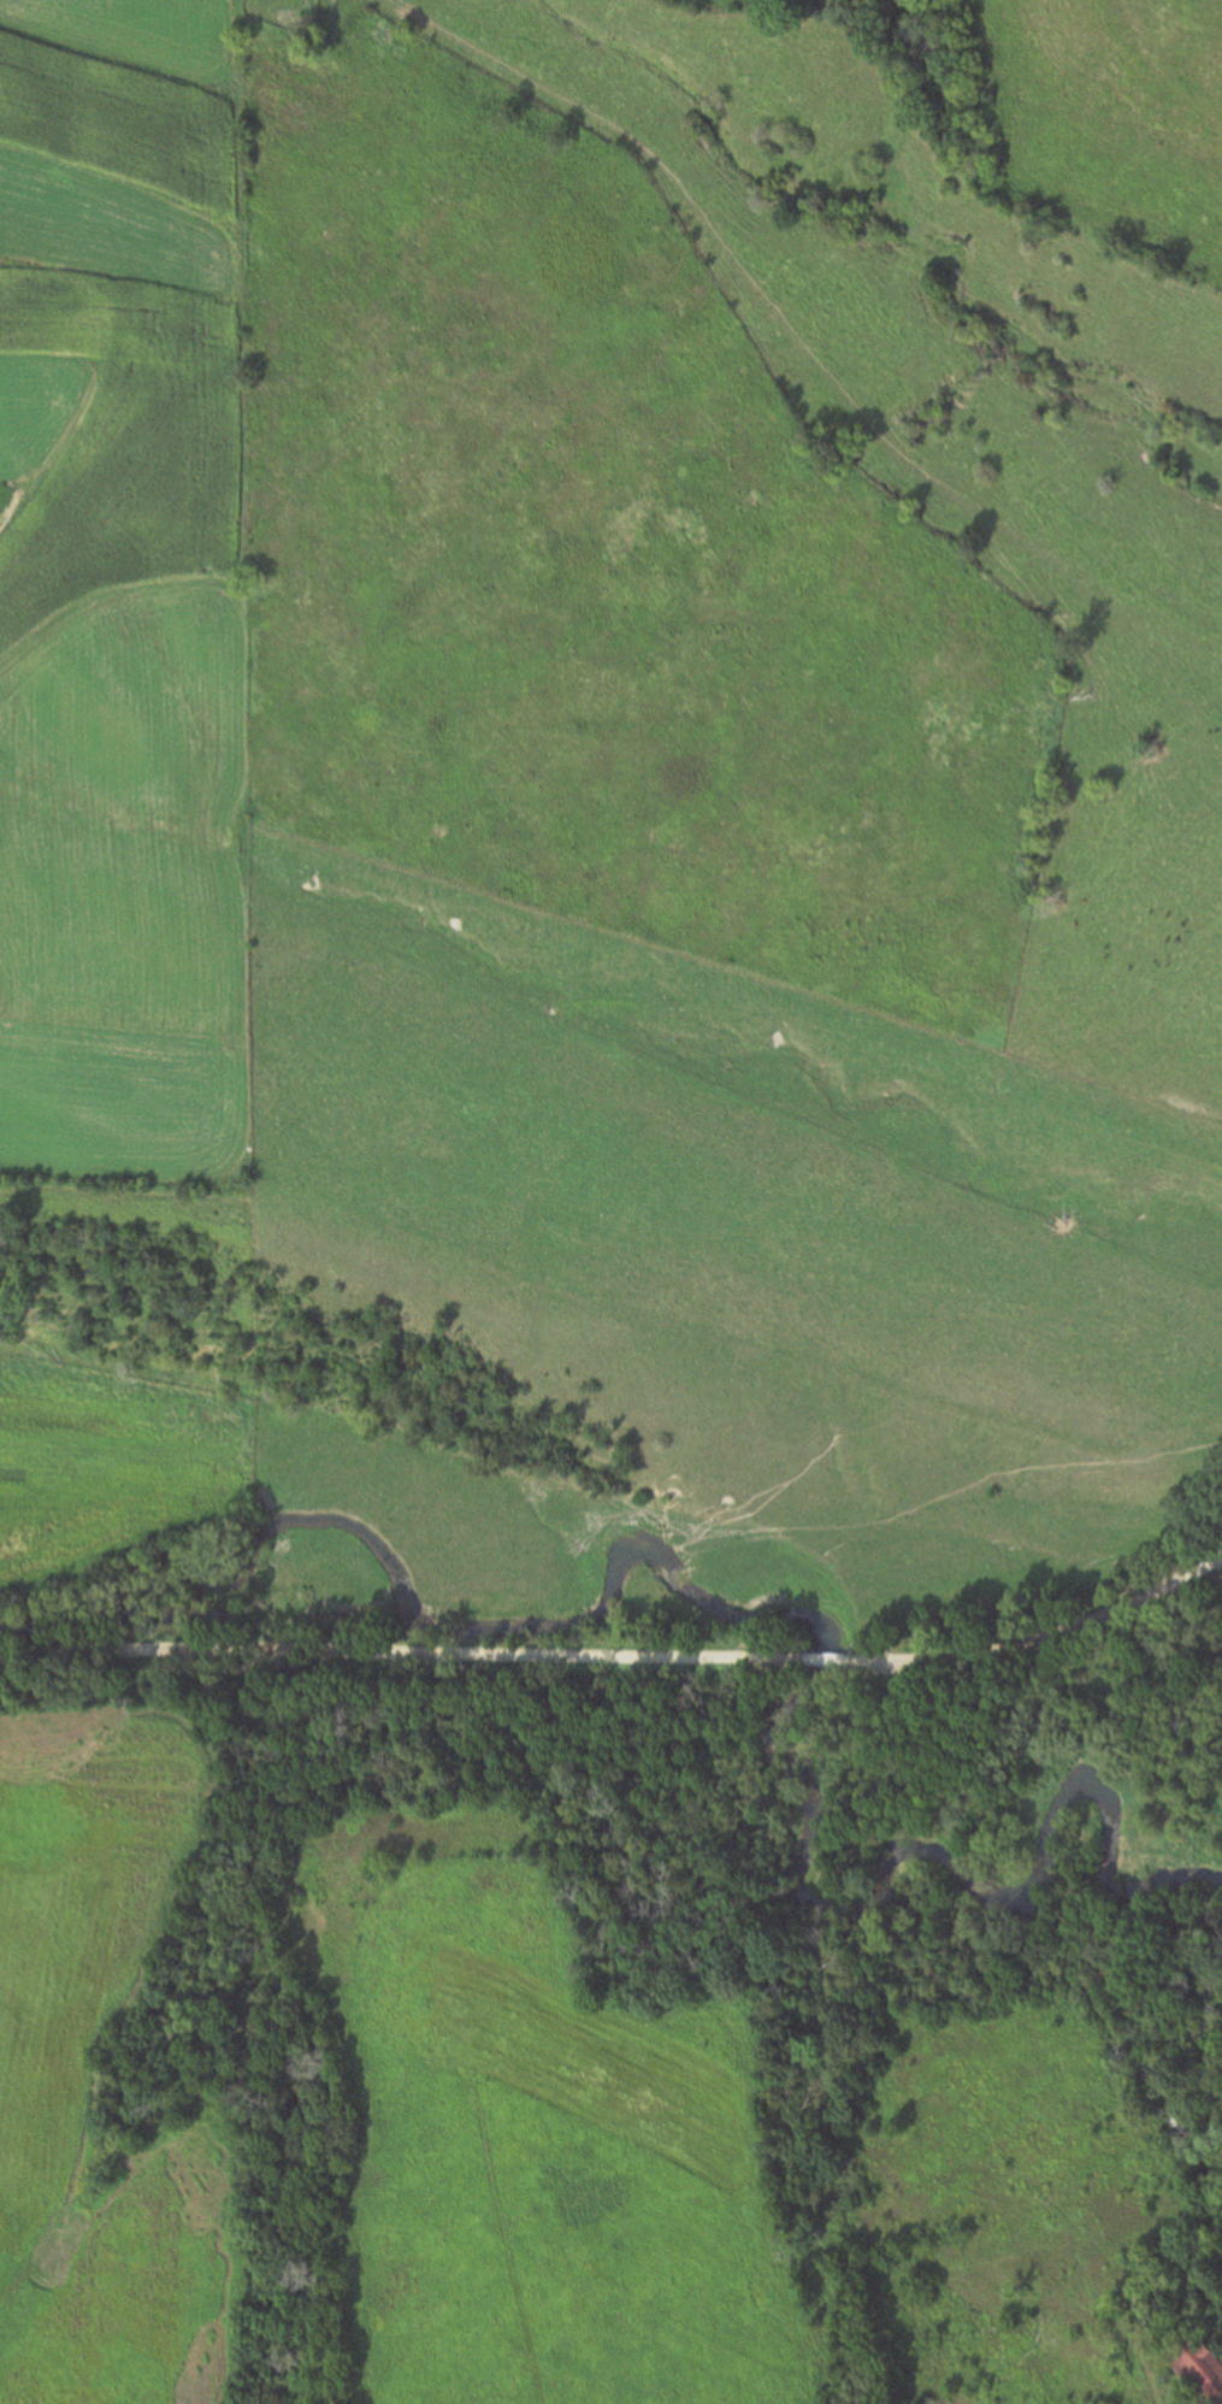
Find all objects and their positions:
road: (1218, 1563)
road: (1202, 1572)
river: (784, 1616)
road: (1025, 1645)
road: (401, 1651)
road: (827, 1661)

